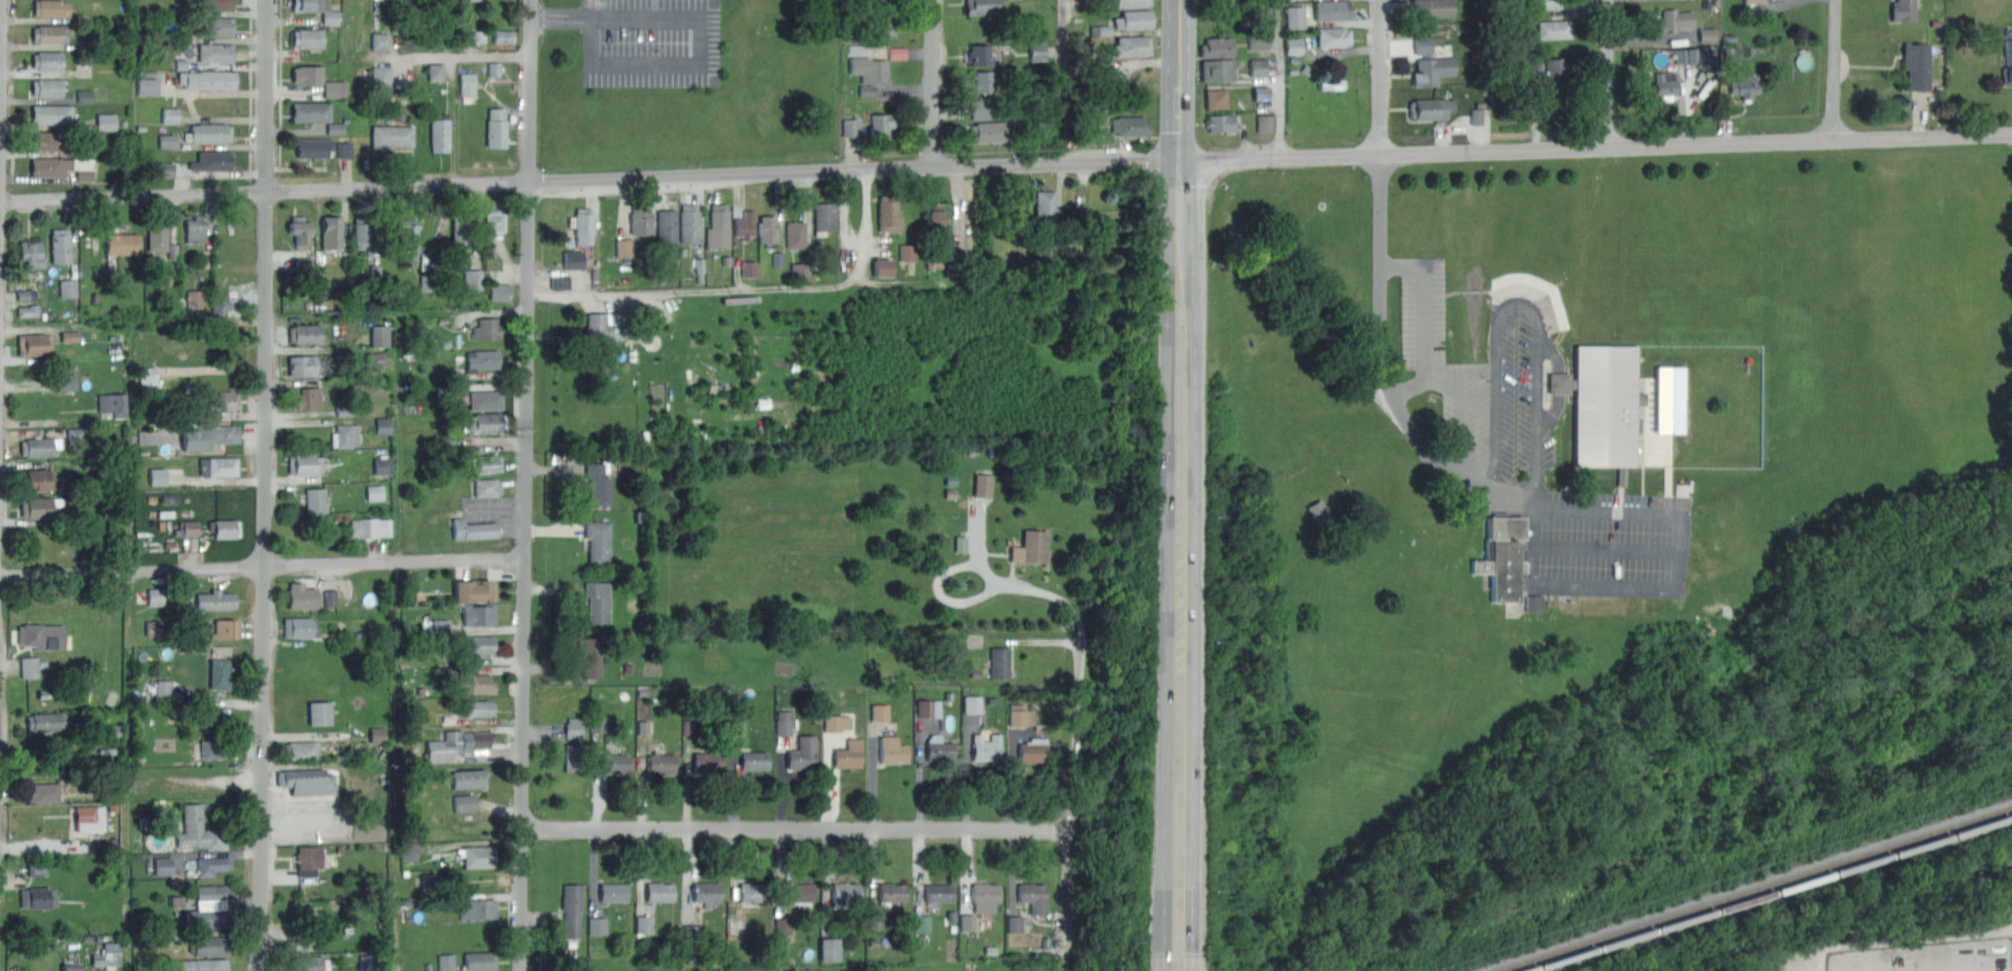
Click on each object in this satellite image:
building: (470, 0)
building: (1753, 0)
building: (1477, 2)
building: (1130, 3)
building: (214, 4)
building: (980, 7)
building: (1433, 7)
building: (51, 8)
building: (1333, 9)
building: (1905, 10)
building: (1295, 15)
building: (1678, 17)
building: (330, 18)
building: (1133, 18)
building: (886, 25)
building: (214, 27)
building: (1555, 28)
building: (1100, 29)
building: (2007, 31)
road: (701, 33)
building: (1708, 33)
building: (49, 34)
building: (1335, 35)
building: (474, 36)
building: (1729, 36)
building: (308, 38)
building: (1258, 38)
building: (380, 41)
parking lot: (650, 42)
building: (1294, 44)
building: (1132, 45)
building: (1218, 45)
road: (1179, 48)
building: (1751, 49)
building: (1041, 50)
building: (1731, 51)
building: (897, 52)
building: (215, 53)
building: (979, 53)
building: (1691, 55)
road: (468, 56)
building: (1293, 58)
building: (2005, 59)
building: (1431, 60)
building: (47, 61)
building: (1909, 65)
building: (1258, 66)
building: (1305, 68)
building: (1218, 69)
building: (1292, 69)
building: (1557, 69)
road: (1836, 69)
building: (436, 72)
building: (869, 72)
road: (1609, 73)
building: (308, 74)
road: (1381, 76)
building: (382, 77)
road: (1280, 78)
building: (207, 80)
building: (982, 80)
road: (1061, 81)
building: (1330, 82)
road: (932, 83)
building: (468, 84)
building: (1744, 84)
building: (148, 86)
building: (1664, 86)
building: (47, 87)
building: (1261, 92)
building: (85, 96)
building: (1217, 97)
building: (1479, 102)
building: (1432, 107)
building: (979, 108)
building: (311, 111)
building: (51, 114)
building: (1475, 115)
building: (1264, 121)
building: (106, 122)
building: (1222, 122)
building: (880, 124)
building: (1130, 125)
building: (851, 126)
building: (496, 127)
building: (335, 128)
road: (1178, 128)
building: (987, 131)
building: (211, 132)
building: (440, 133)
building: (391, 135)
building: (49, 140)
building: (168, 141)
building: (314, 148)
building: (345, 150)
building: (212, 161)
road: (1005, 163)
building: (62, 167)
building: (166, 169)
road: (1179, 196)
building: (1044, 207)
building: (888, 212)
road: (843, 213)
building: (824, 216)
building: (934, 216)
building: (640, 219)
road: (1, 220)
building: (493, 222)
building: (688, 223)
building: (746, 224)
building: (583, 225)
building: (667, 226)
building: (719, 226)
building: (462, 227)
building: (195, 231)
building: (300, 231)
building: (331, 231)
building: (766, 231)
building: (363, 234)
building: (794, 234)
building: (157, 235)
building: (408, 237)
building: (122, 244)
building: (60, 246)
building: (623, 246)
building: (907, 251)
building: (30, 256)
building: (573, 258)
building: (749, 267)
building: (884, 267)
building: (472, 279)
building: (561, 281)
building: (68, 288)
road: (744, 288)
building: (26, 295)
building: (194, 298)
road: (1525, 302)
building: (220, 303)
building: (28, 311)
road: (1424, 318)
building: (603, 327)
building: (485, 328)
building: (305, 333)
building: (380, 336)
building: (34, 344)
road: (1553, 353)
building: (481, 359)
building: (307, 365)
building: (148, 374)
building: (67, 381)
road: (1558, 381)
parking lot: (1484, 382)
building: (308, 397)
building: (1671, 397)
building: (485, 399)
building: (221, 401)
building: (1604, 403)
building: (113, 404)
road: (1458, 413)
road: (1552, 413)
building: (483, 422)
building: (383, 426)
building: (160, 436)
building: (346, 436)
building: (207, 437)
building: (38, 446)
building: (486, 463)
building: (305, 464)
building: (218, 466)
building: (159, 476)
building: (36, 479)
road: (220, 482)
building: (596, 483)
building: (984, 483)
road: (267, 485)
road: (525, 485)
building: (487, 487)
building: (375, 492)
building: (315, 499)
building: (37, 507)
road: (496, 511)
parking lot: (491, 512)
road: (1535, 514)
building: (371, 526)
building: (190, 528)
building: (225, 528)
building: (473, 529)
building: (597, 541)
parking lot: (1606, 544)
building: (1032, 546)
road: (1608, 550)
building: (1504, 555)
road: (262, 563)
road: (1018, 585)
road: (1180, 585)
building: (472, 591)
road: (942, 595)
building: (155, 596)
building: (302, 597)
building: (331, 598)
building: (215, 600)
building: (596, 601)
building: (1535, 601)
building: (478, 615)
building: (442, 625)
building: (299, 627)
building: (153, 628)
building: (226, 628)
building: (41, 635)
building: (478, 644)
building: (589, 654)
building: (999, 662)
building: (29, 667)
building: (219, 672)
building: (475, 683)
building: (164, 689)
building: (972, 702)
building: (928, 707)
building: (477, 708)
building: (879, 711)
building: (319, 712)
building: (1022, 714)
building: (837, 720)
building: (783, 721)
building: (44, 722)
building: (598, 722)
building: (574, 726)
building: (643, 726)
building: (113, 731)
building: (458, 742)
building: (938, 747)
building: (985, 747)
building: (218, 749)
building: (300, 750)
building: (891, 750)
building: (1032, 750)
building: (800, 752)
building: (847, 754)
building: (573, 756)
building: (753, 760)
building: (706, 761)
building: (613, 763)
building: (660, 763)
building: (468, 778)
building: (306, 781)
building: (44, 792)
building: (463, 802)
road: (1066, 804)
building: (87, 819)
road: (793, 826)
building: (198, 831)
building: (478, 856)
building: (309, 859)
building: (211, 865)
building: (164, 866)
building: (38, 871)
building: (428, 883)
railway: (1754, 889)
building: (658, 891)
building: (706, 891)
building: (613, 892)
building: (890, 892)
building: (938, 892)
building: (798, 893)
railway: (1768, 893)
building: (752, 894)
building: (843, 894)
building: (983, 895)
building: (1033, 896)
building: (37, 897)
building: (209, 908)
building: (571, 909)
building: (477, 910)
building: (315, 913)
building: (967, 920)
building: (645, 922)
building: (1018, 922)
building: (597, 923)
building: (296, 942)
building: (212, 944)
building: (830, 947)
building: (107, 954)
road: (1171, 954)
road: (1182, 954)
parking lot: (1930, 955)
building: (479, 960)
building: (365, 962)
building: (446, 962)
building: (308, 963)
building: (203, 965)

